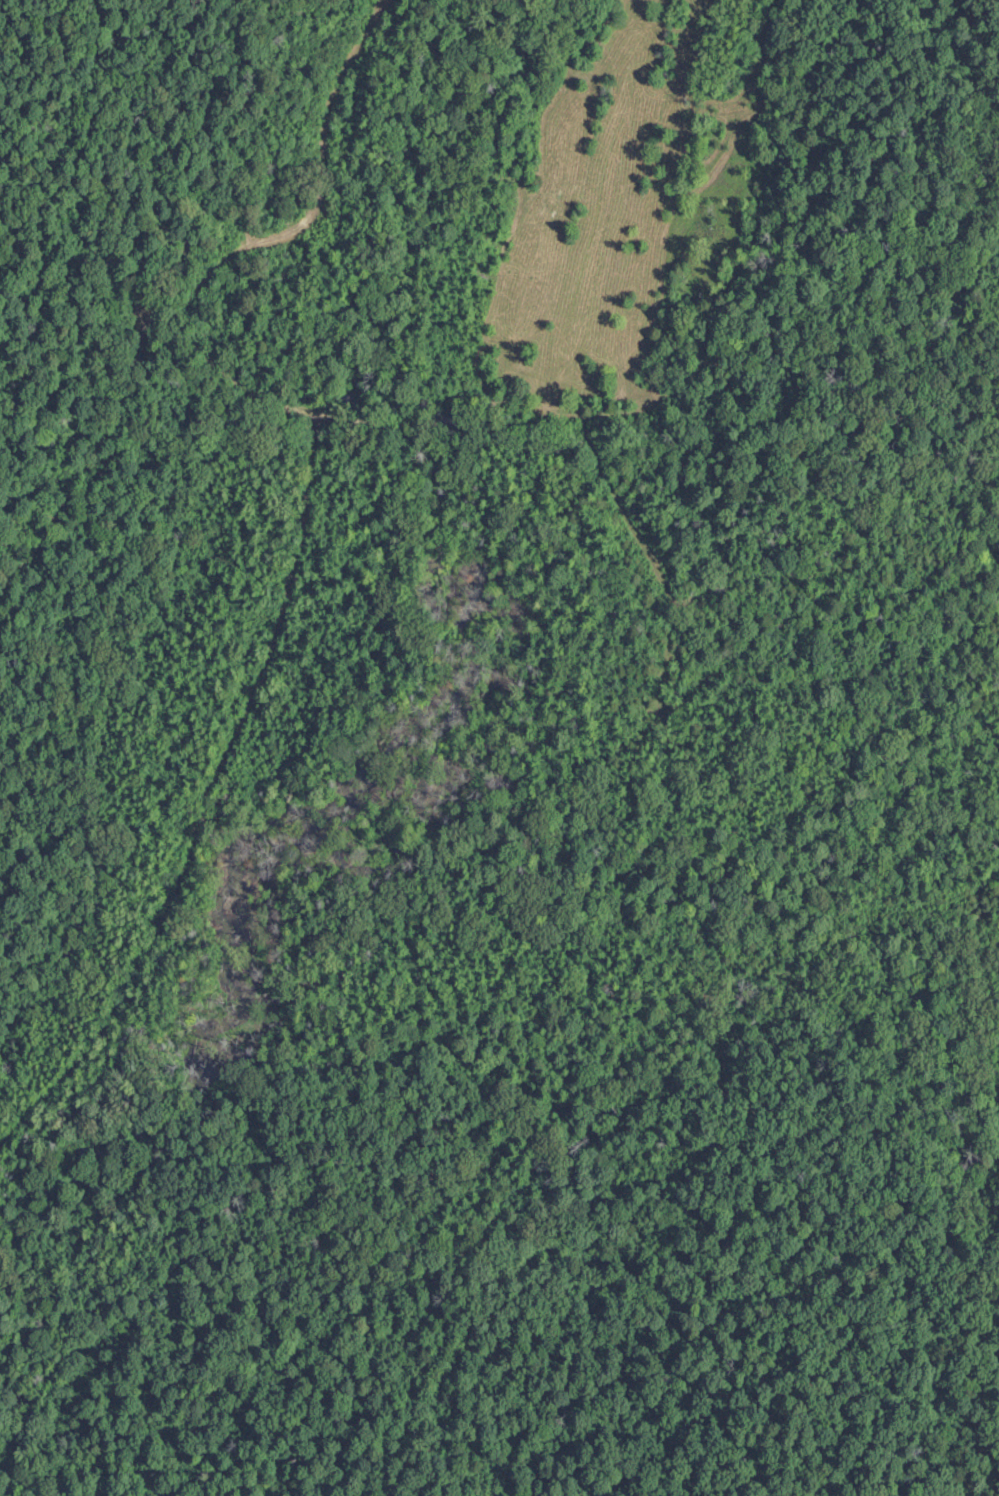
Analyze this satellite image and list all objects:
road: (199, 291)
road: (742, 1282)

